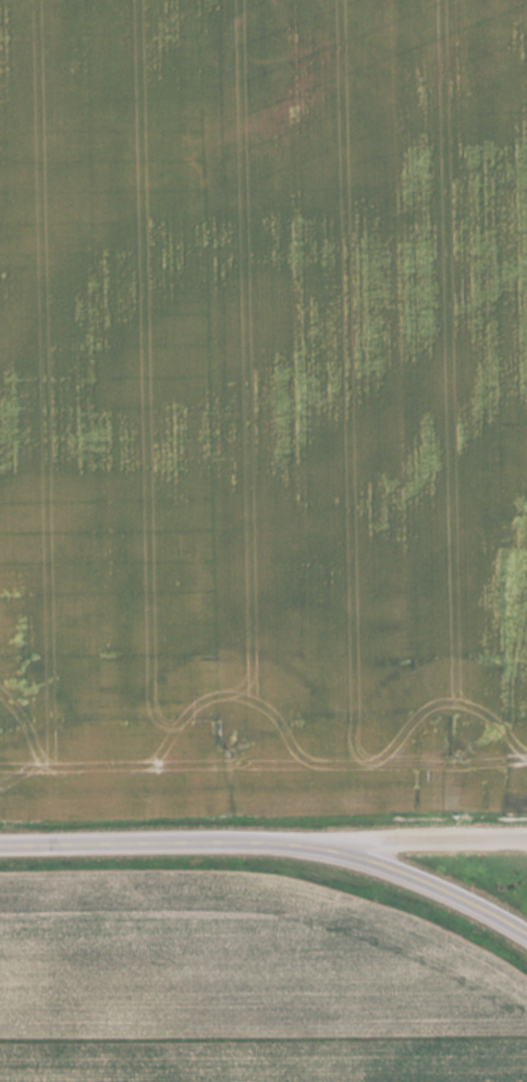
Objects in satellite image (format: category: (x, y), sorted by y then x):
road: (432, 839)
road: (272, 841)

